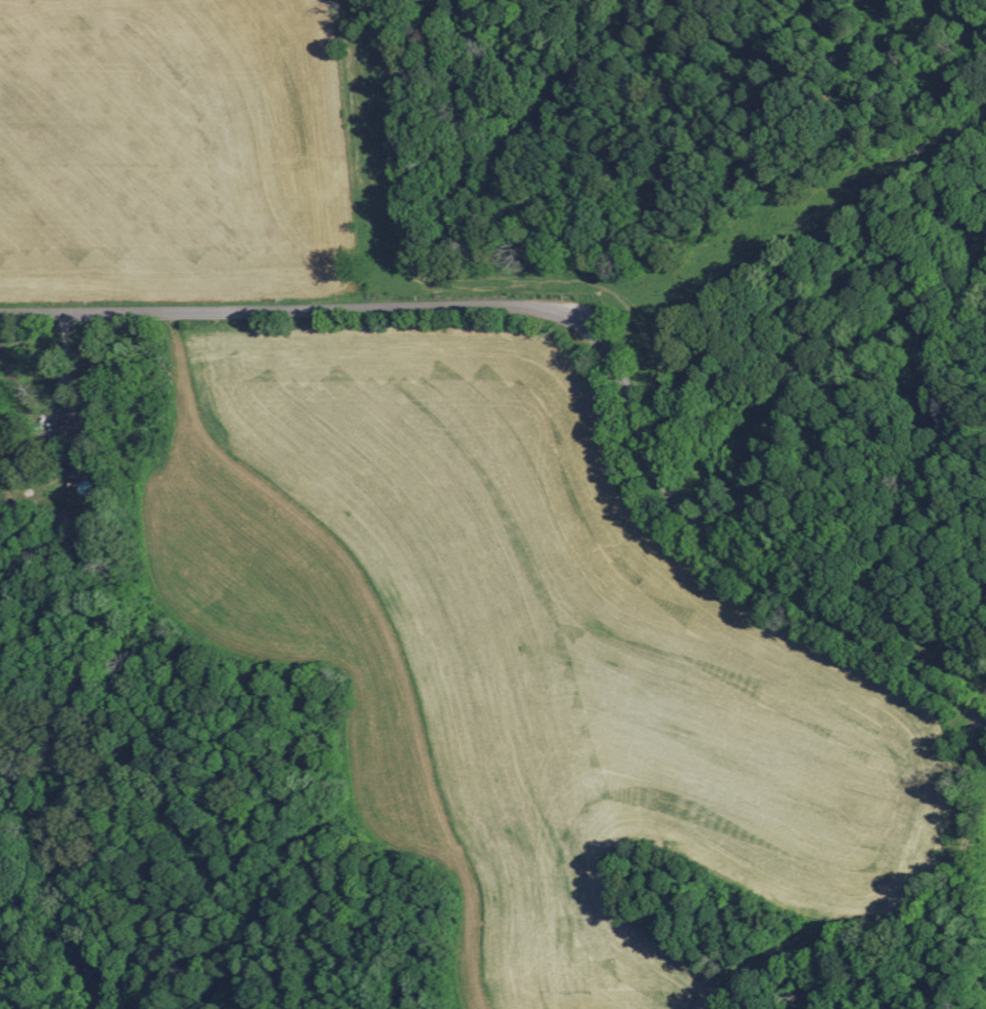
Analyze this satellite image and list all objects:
road: (588, 310)
road: (898, 903)

